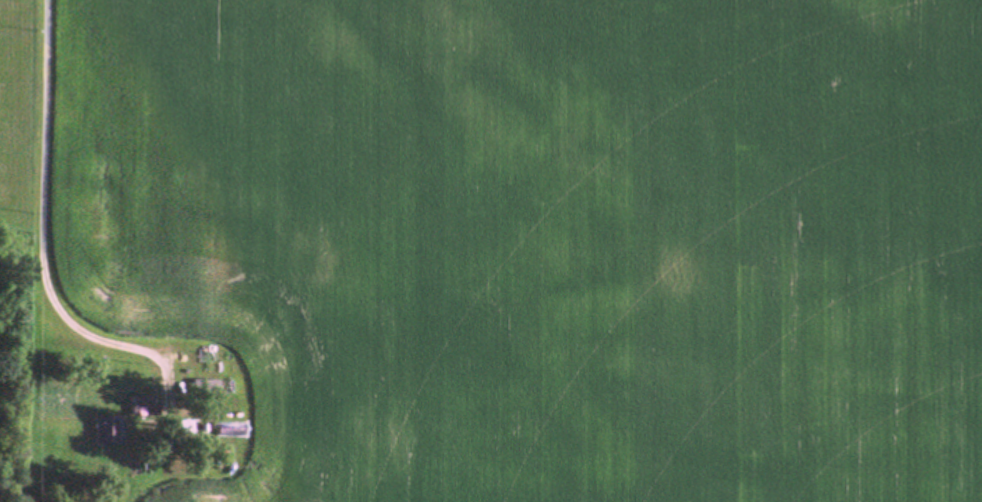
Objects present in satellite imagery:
road: (39, 234)
building: (146, 406)
building: (110, 428)

